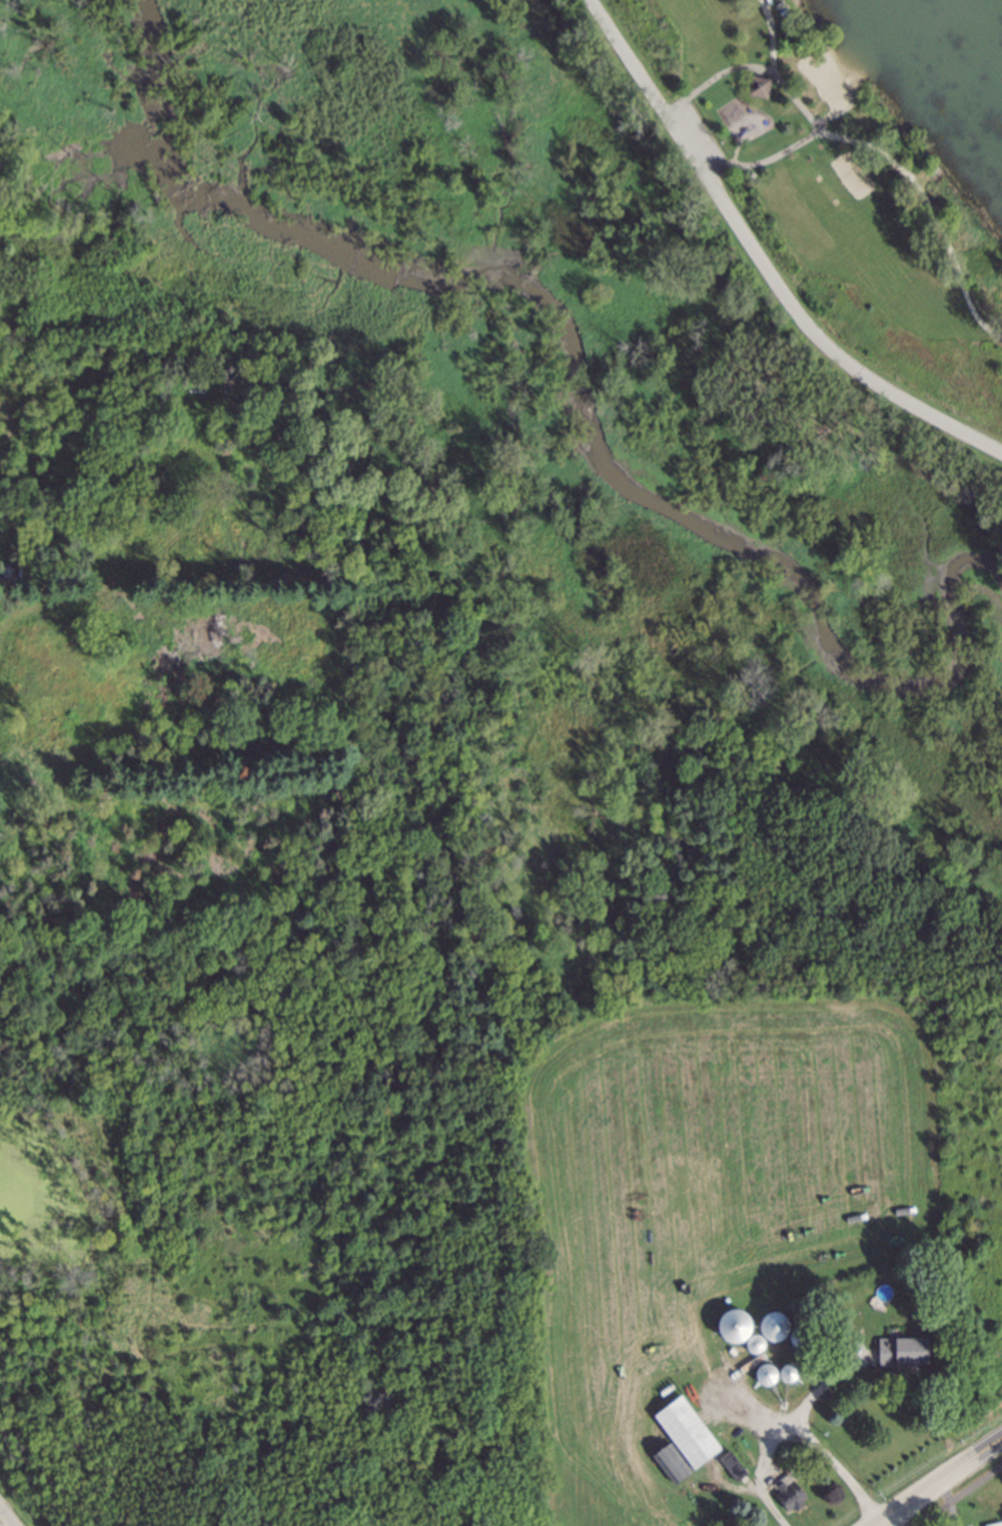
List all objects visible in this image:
building: (754, 82)
building: (1, 162)
park: (836, 193)
road: (762, 261)
river: (578, 399)
crop: (684, 1200)
building: (734, 1323)
building: (775, 1324)
building: (803, 1336)
building: (754, 1343)
building: (903, 1348)
building: (789, 1370)
building: (766, 1373)
building: (686, 1426)
road: (820, 1430)
building: (673, 1458)
building: (732, 1461)
road: (768, 1461)
building: (791, 1486)
road: (943, 1486)
road: (9, 1514)
building: (992, 1523)

